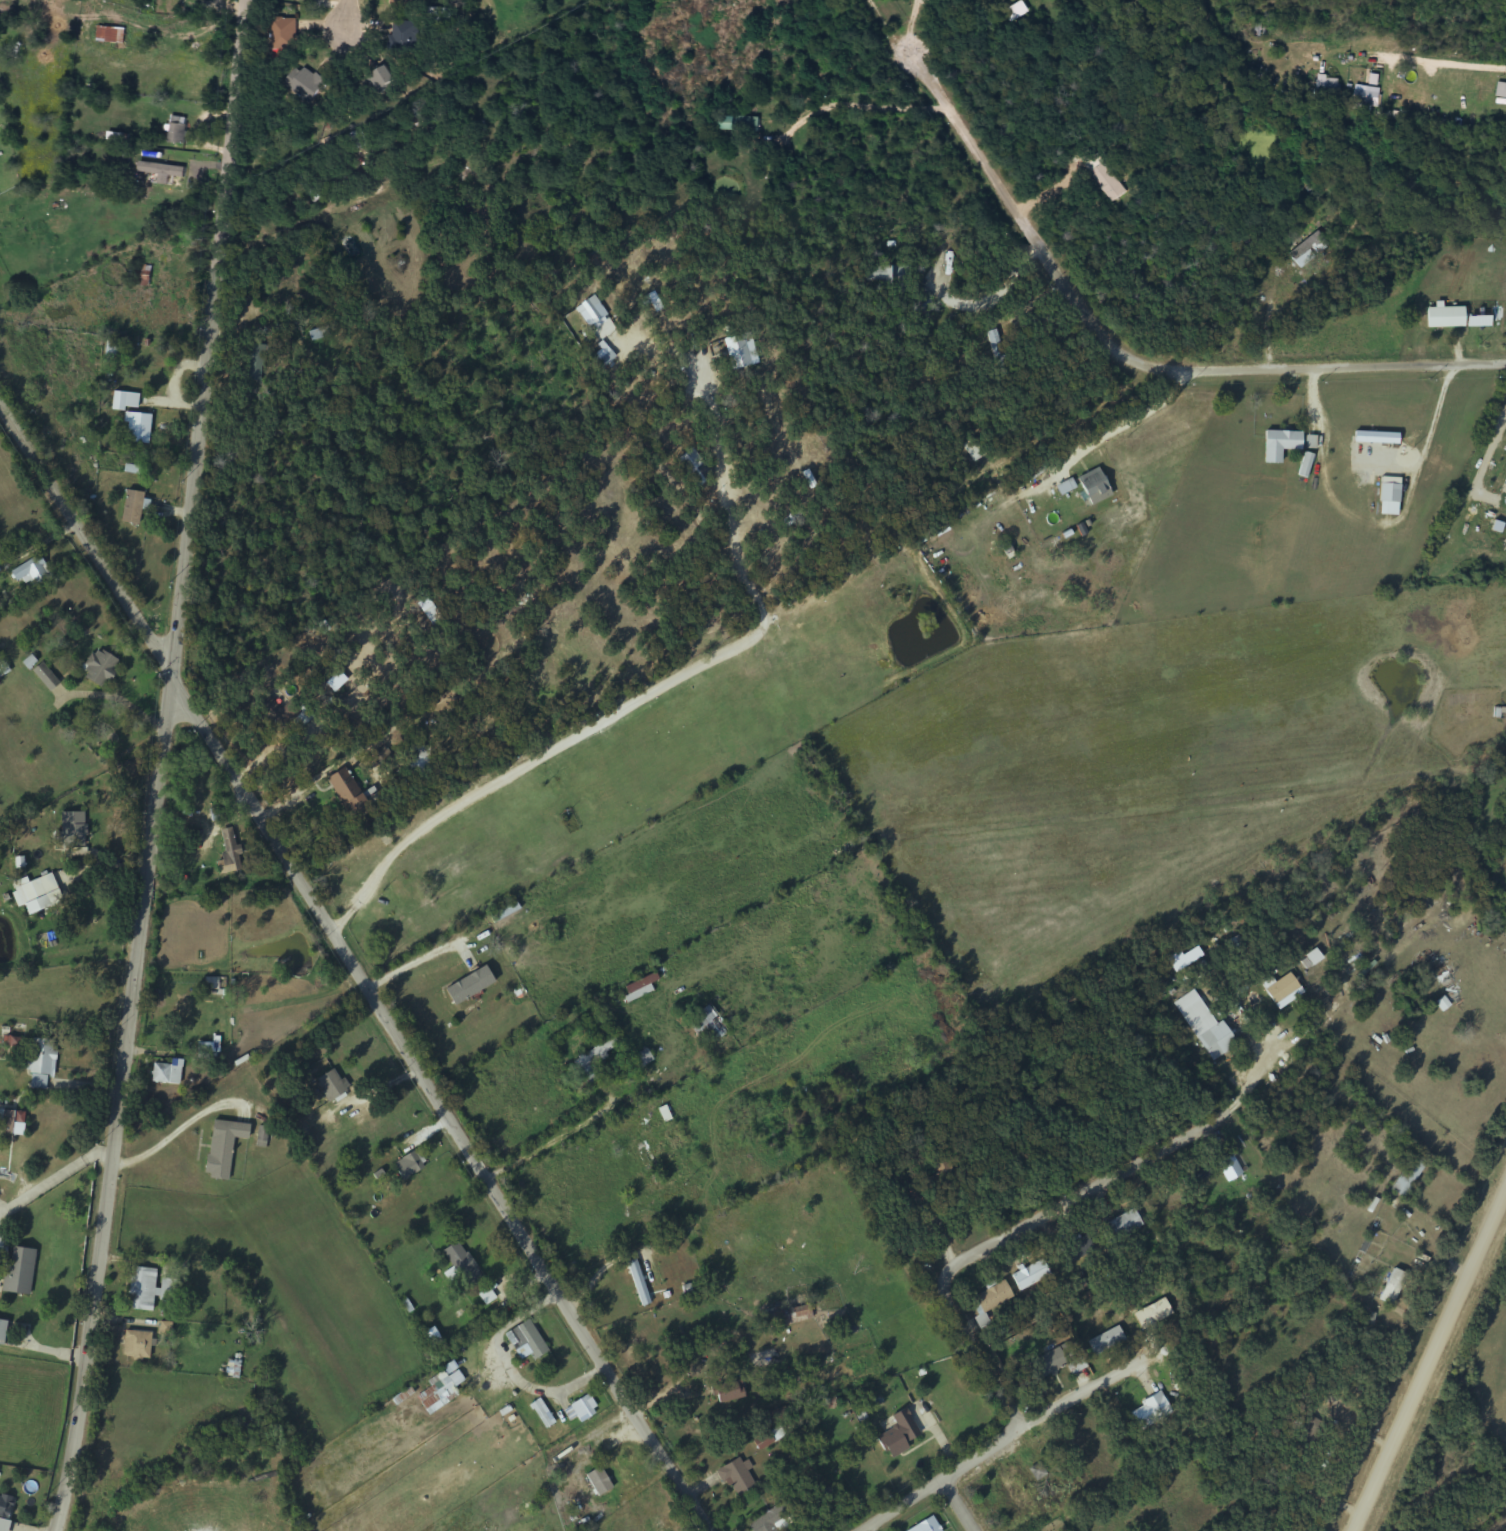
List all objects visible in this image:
road: (345, 25)
building: (1259, 30)
building: (285, 33)
building: (107, 34)
building: (405, 35)
building: (381, 78)
building: (305, 82)
building: (1326, 85)
building: (1501, 90)
building: (1365, 100)
building: (736, 123)
building: (177, 130)
building: (357, 139)
building: (1100, 174)
building: (161, 180)
building: (347, 245)
building: (1308, 249)
building: (143, 275)
building: (896, 276)
building: (590, 311)
building: (1444, 317)
building: (318, 333)
building: (112, 349)
building: (736, 351)
building: (1002, 351)
road: (1128, 352)
building: (253, 365)
building: (118, 402)
building: (137, 428)
building: (1375, 438)
building: (1278, 444)
building: (690, 471)
building: (1092, 486)
building: (1389, 496)
building: (130, 507)
building: (850, 514)
building: (35, 571)
building: (566, 662)
building: (4, 668)
building: (101, 669)
building: (47, 678)
building: (288, 713)
building: (1503, 714)
building: (383, 757)
road: (158, 767)
building: (344, 788)
road: (449, 816)
building: (78, 831)
building: (227, 854)
building: (38, 888)
building: (45, 904)
building: (504, 913)
road: (356, 967)
building: (641, 988)
building: (1281, 989)
building: (466, 993)
building: (706, 1025)
building: (1215, 1041)
building: (642, 1059)
building: (592, 1060)
building: (43, 1064)
building: (168, 1074)
building: (331, 1085)
building: (652, 1114)
building: (12, 1123)
building: (224, 1149)
building: (642, 1162)
building: (408, 1166)
building: (1228, 1167)
building: (1408, 1176)
building: (1119, 1226)
road: (996, 1243)
building: (4, 1245)
building: (1077, 1249)
building: (461, 1265)
building: (22, 1272)
building: (1030, 1275)
building: (638, 1282)
building: (1392, 1287)
building: (145, 1290)
building: (992, 1296)
building: (1093, 1329)
building: (4, 1331)
building: (432, 1338)
building: (527, 1338)
building: (140, 1346)
building: (1051, 1361)
road: (1429, 1361)
building: (726, 1391)
building: (437, 1392)
building: (583, 1408)
building: (1150, 1412)
building: (897, 1433)
road: (1001, 1445)
building: (736, 1476)
building: (598, 1481)
building: (1047, 1496)
road: (959, 1505)
building: (6, 1512)
building: (771, 1520)
building: (925, 1525)

